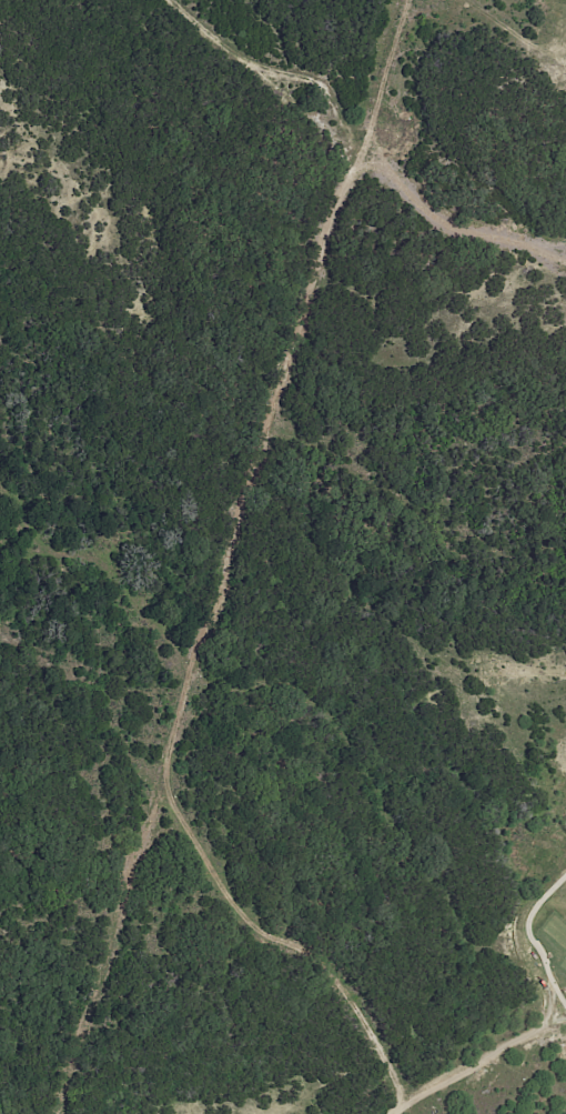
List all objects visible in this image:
road: (529, 936)

